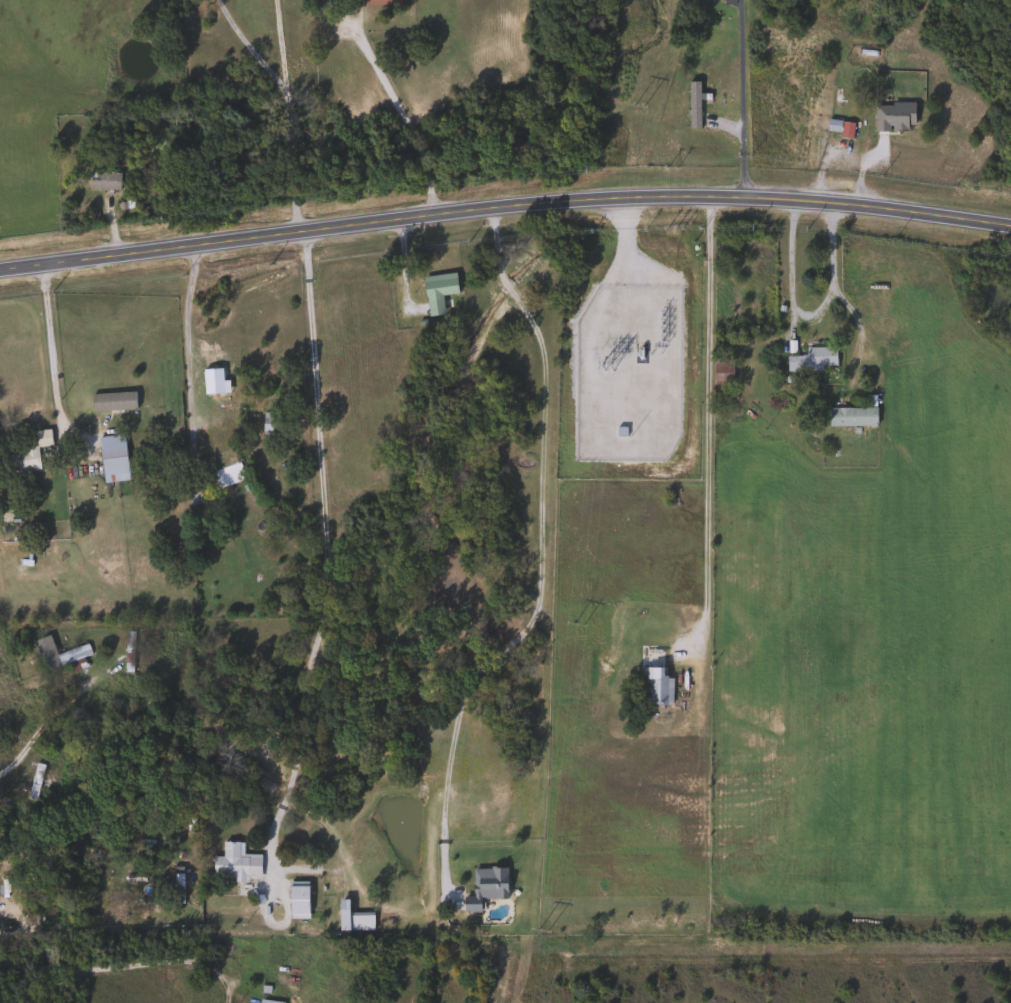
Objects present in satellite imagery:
building: (376, 0)
road: (248, 42)
road: (739, 99)
power tower: (639, 107)
road: (286, 116)
building: (891, 117)
road: (400, 120)
building: (101, 181)
road: (504, 206)
road: (789, 265)
road: (831, 282)
building: (435, 291)
road: (185, 350)
building: (810, 360)
road: (49, 361)
power tower: (609, 365)
power substation: (629, 375)
building: (719, 375)
building: (110, 402)
road: (706, 418)
building: (268, 424)
building: (23, 456)
building: (110, 459)
building: (227, 474)
road: (322, 540)
road: (539, 561)
power tower: (580, 626)
building: (126, 651)
building: (54, 654)
building: (653, 687)
road: (38, 728)
building: (32, 782)
building: (233, 865)
building: (296, 901)
building: (351, 919)
power tower: (543, 930)
road: (124, 967)
building: (266, 1002)

